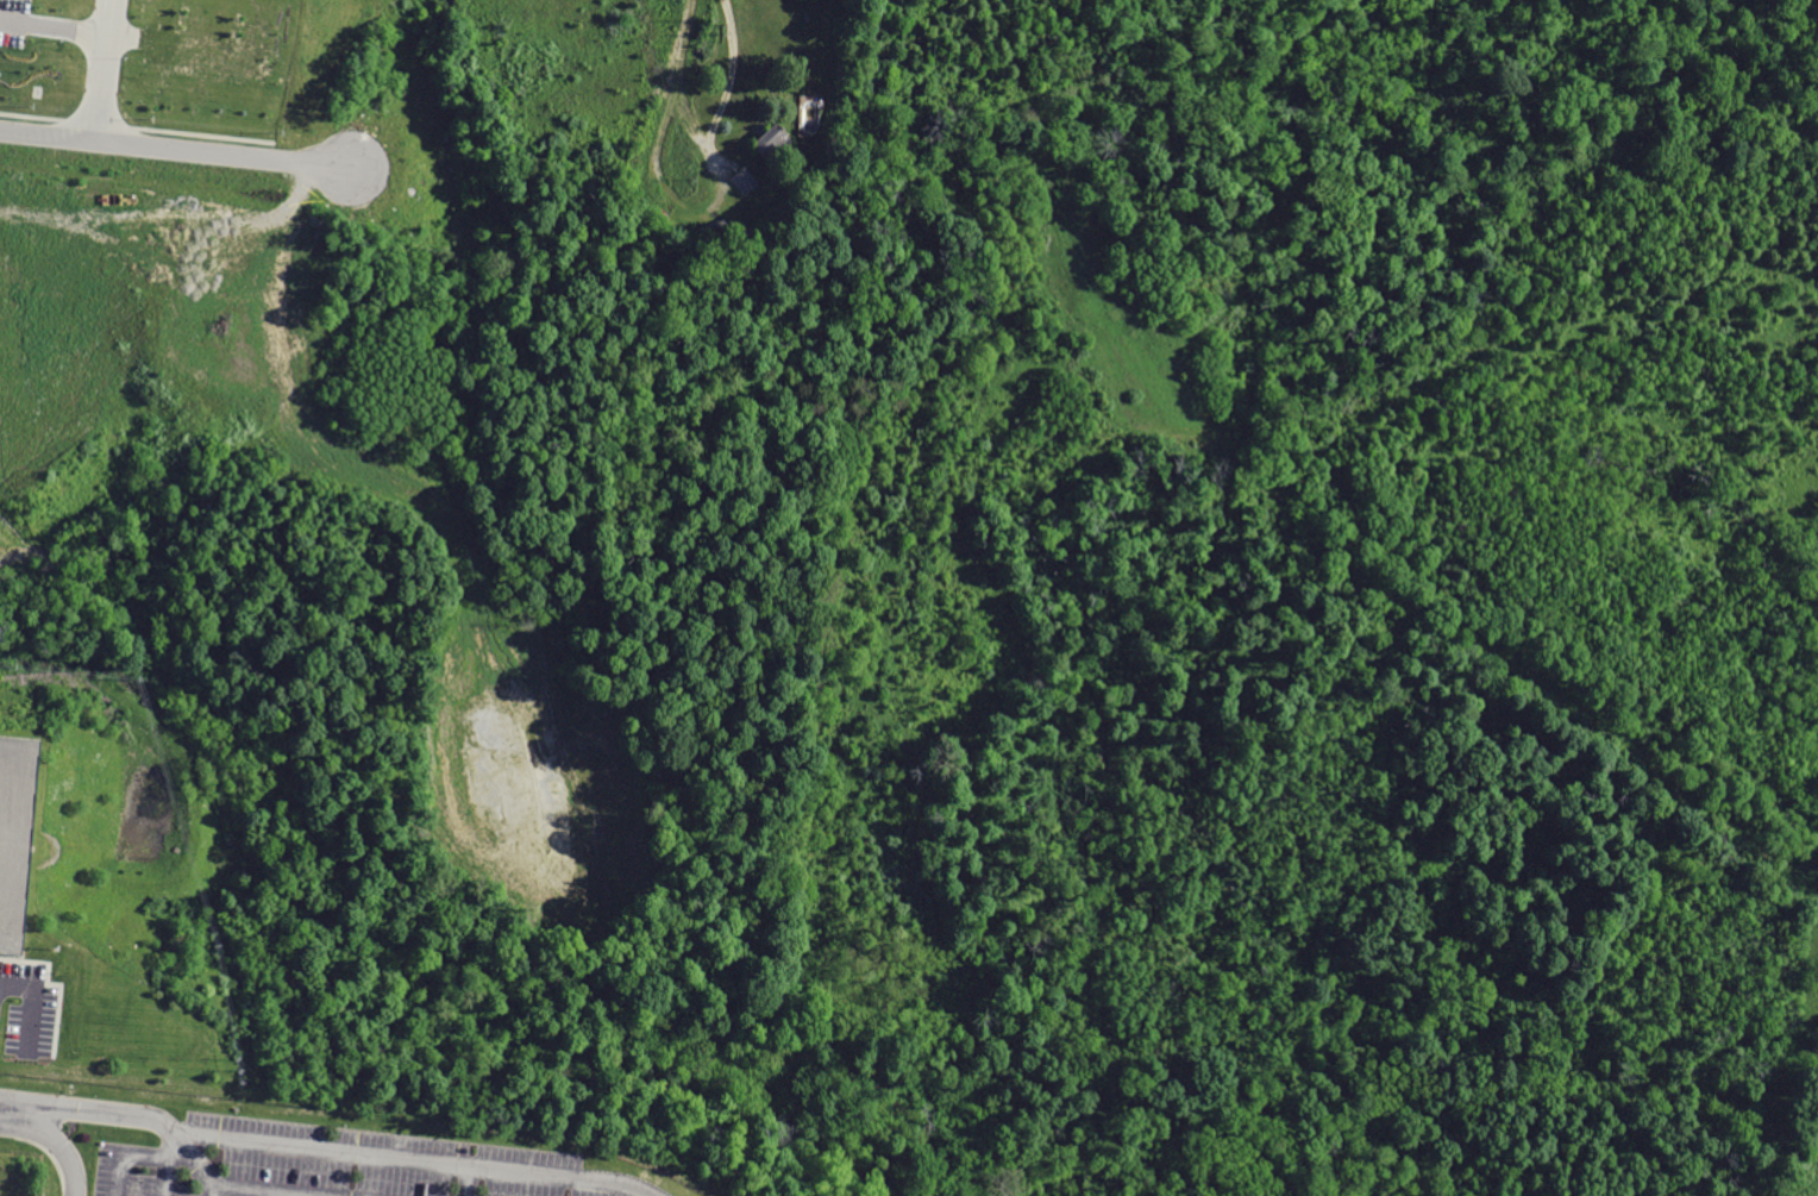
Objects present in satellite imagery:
road: (67, 29)
road: (102, 69)
building: (771, 140)
road: (174, 148)
building: (18, 840)
road: (12, 1112)
road: (62, 1148)
road: (338, 1152)

